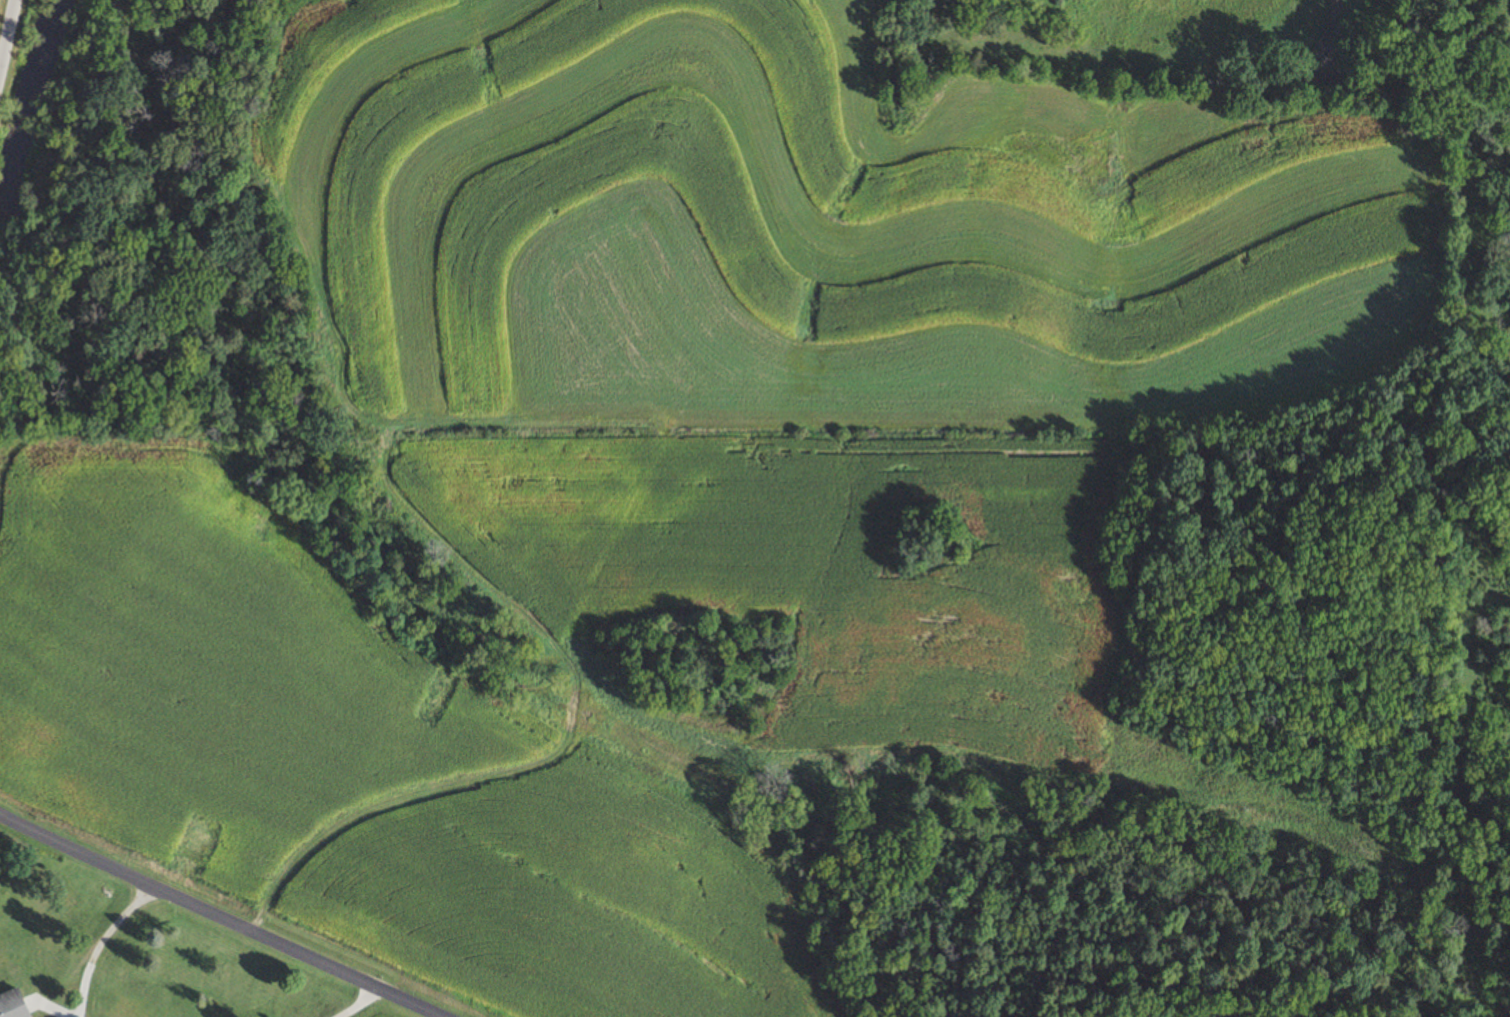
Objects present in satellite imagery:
road: (8, 39)
river: (40, 133)
road: (221, 916)
road: (99, 943)
road: (355, 1002)
building: (14, 1005)

